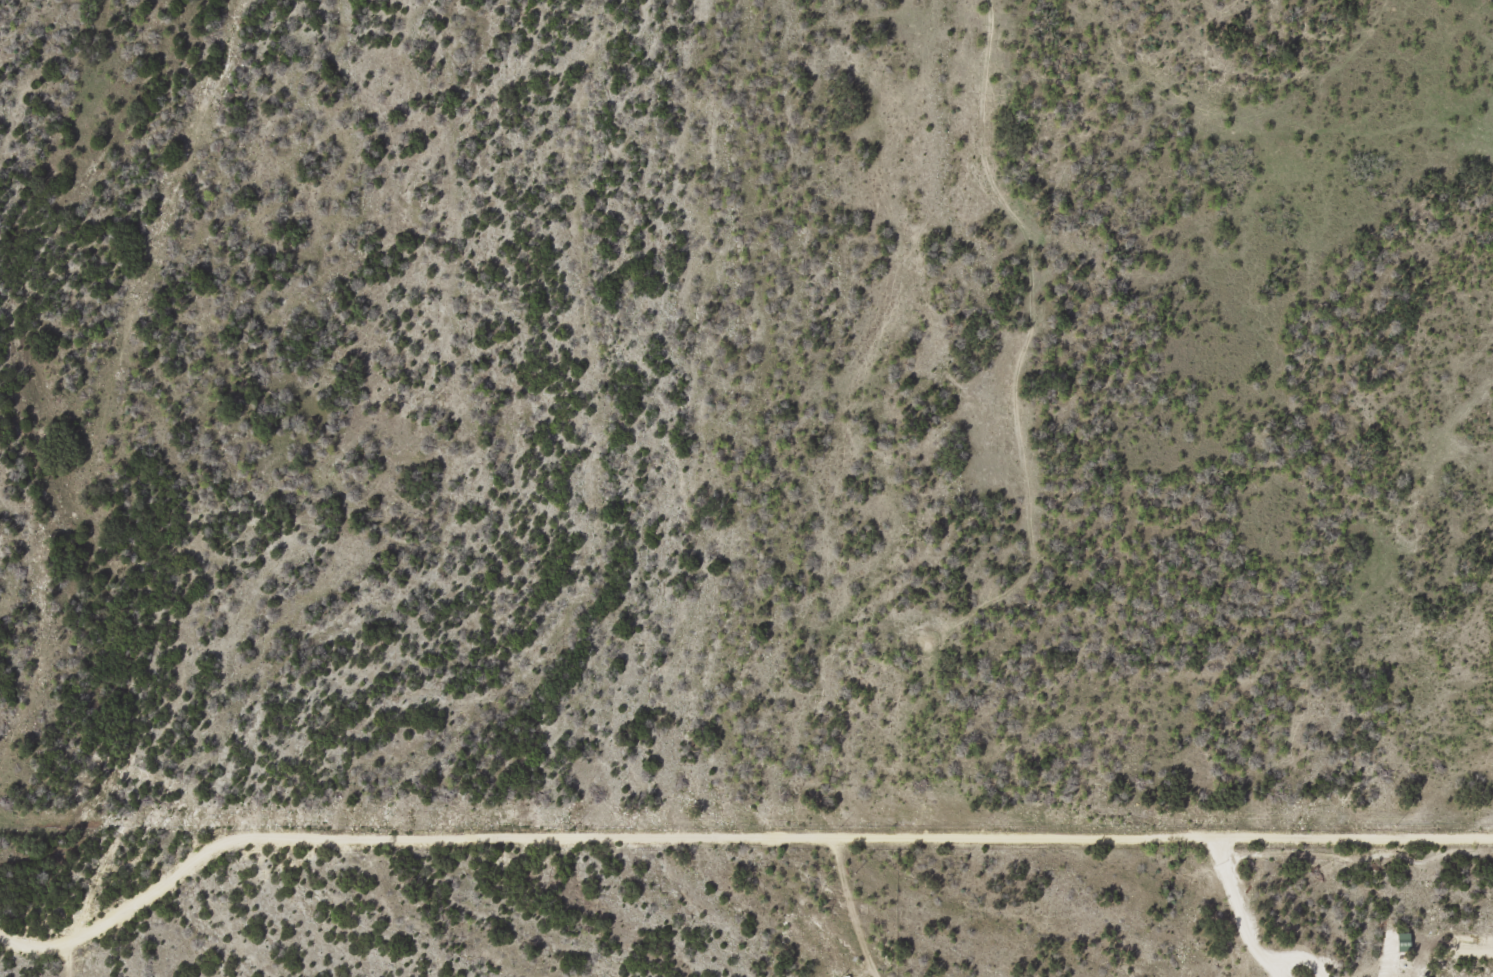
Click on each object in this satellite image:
road: (736, 830)
road: (799, 908)

